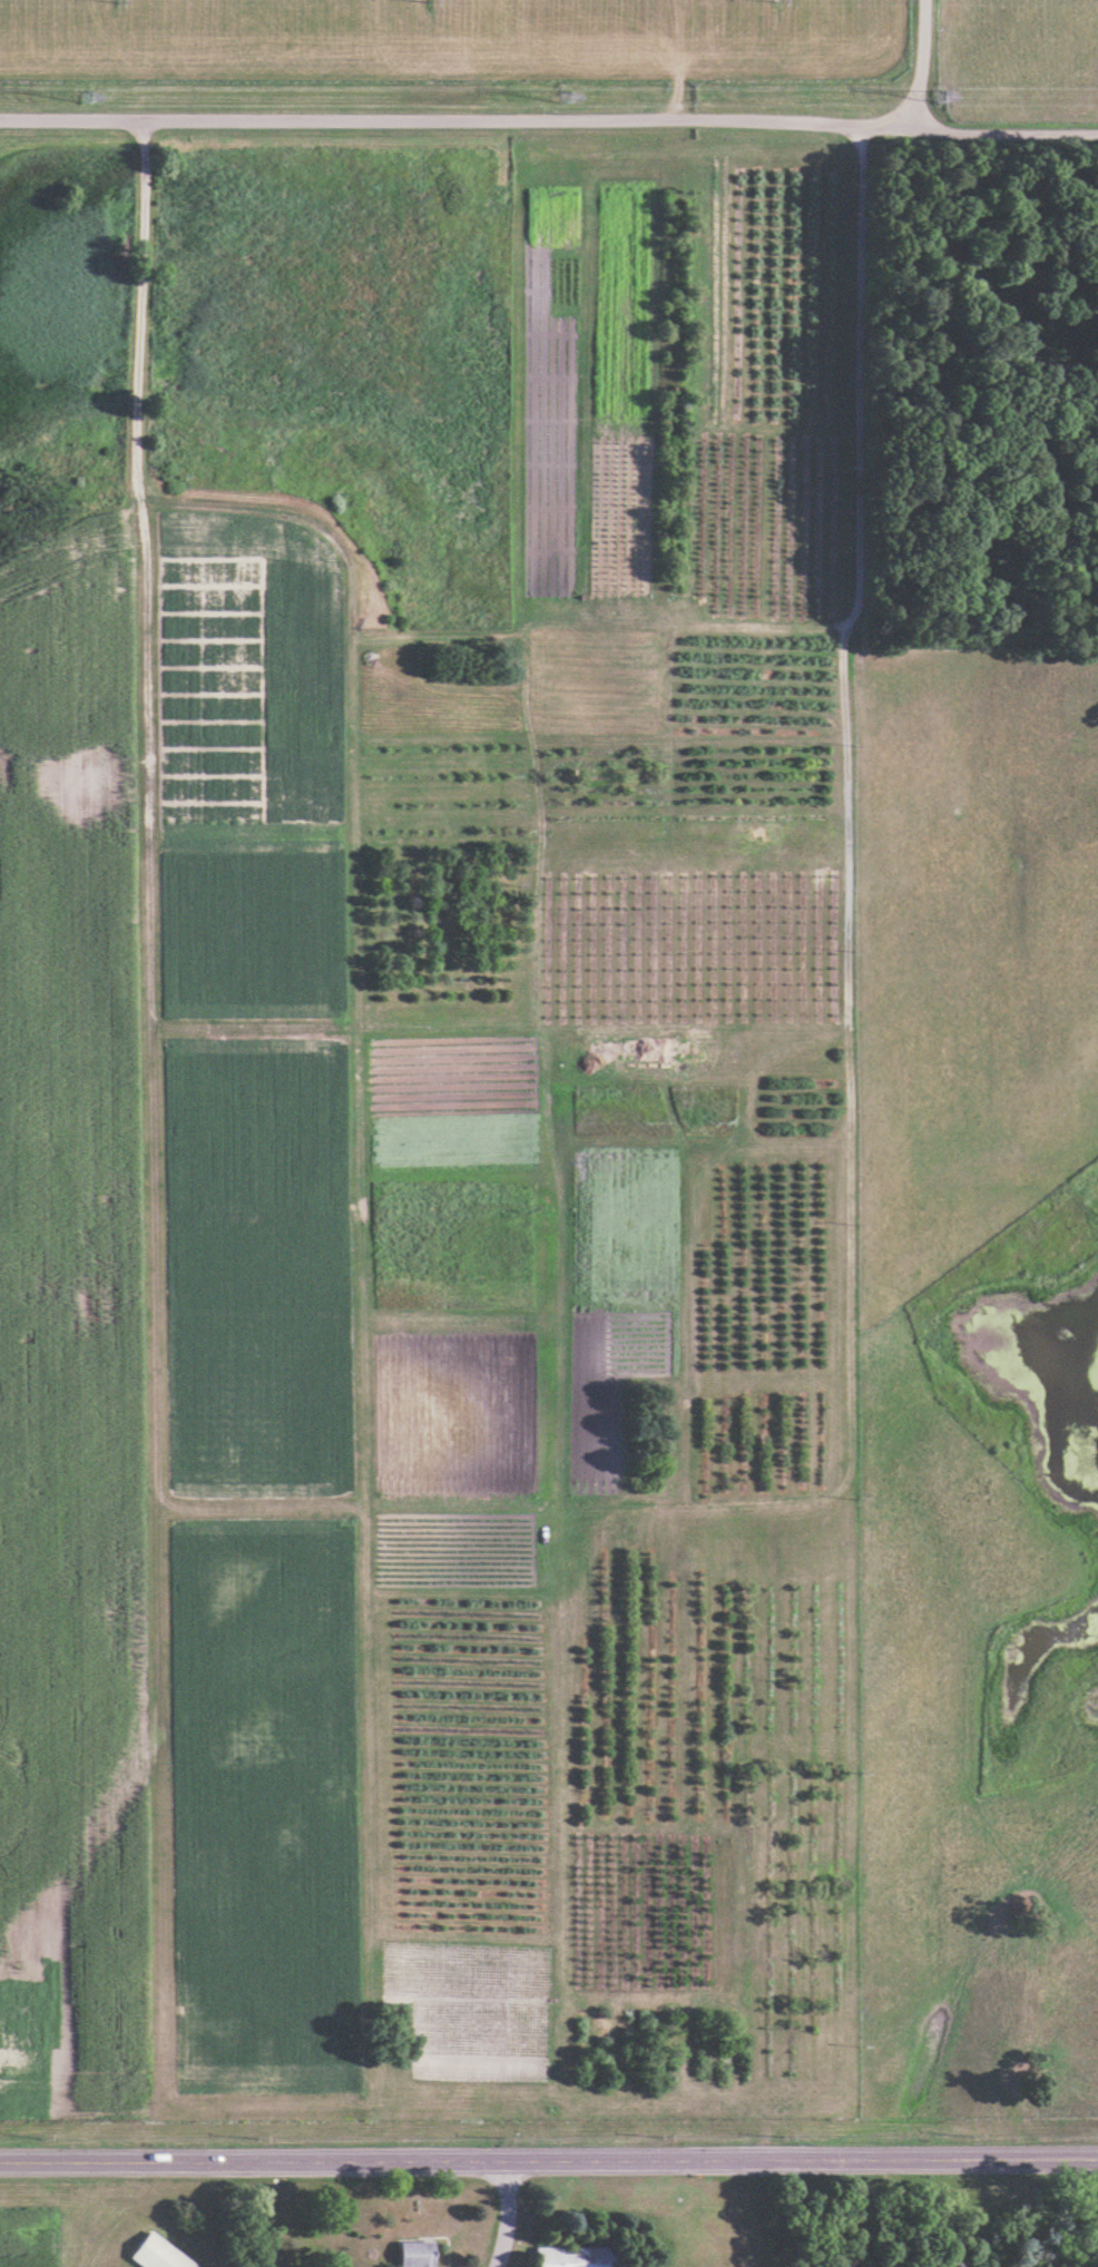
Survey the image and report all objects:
road: (923, 60)
power tower: (948, 97)
power tower: (85, 98)
power tower: (562, 98)
road: (461, 121)
road: (1009, 133)
crop: (246, 670)
crop: (252, 920)
crop: (453, 1099)
crop: (624, 1227)
crop: (256, 1264)
crop: (71, 1342)
crop: (453, 1413)
road: (501, 1509)
crop: (262, 1805)
crop: (473, 2004)
road: (803, 2160)
road: (254, 2161)
road: (504, 2215)
crop: (32, 2238)
building: (157, 2254)
building: (415, 2254)
building: (573, 2256)

